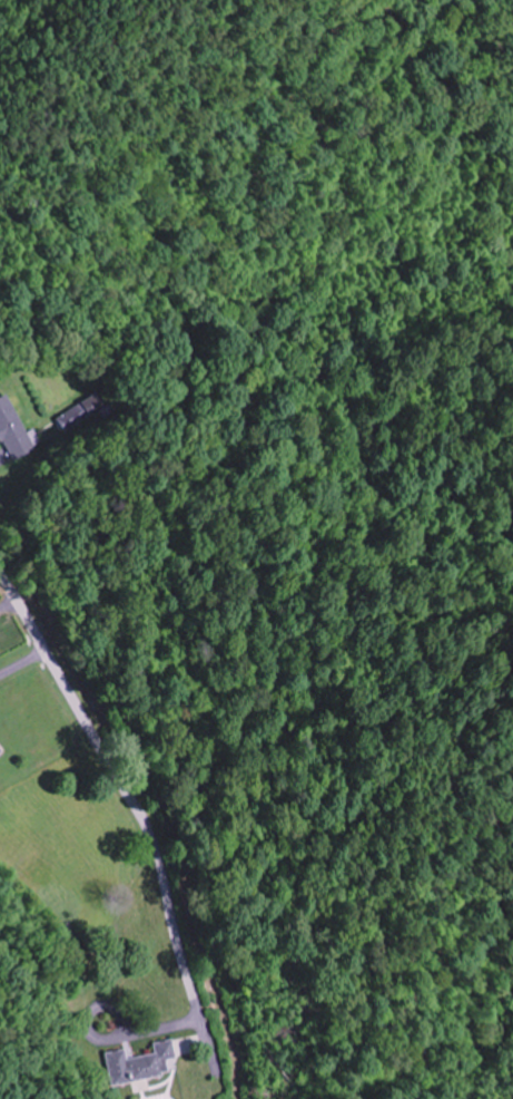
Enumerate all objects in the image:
building: (82, 412)
building: (13, 429)
building: (0, 749)
road: (112, 782)
building: (140, 1062)

